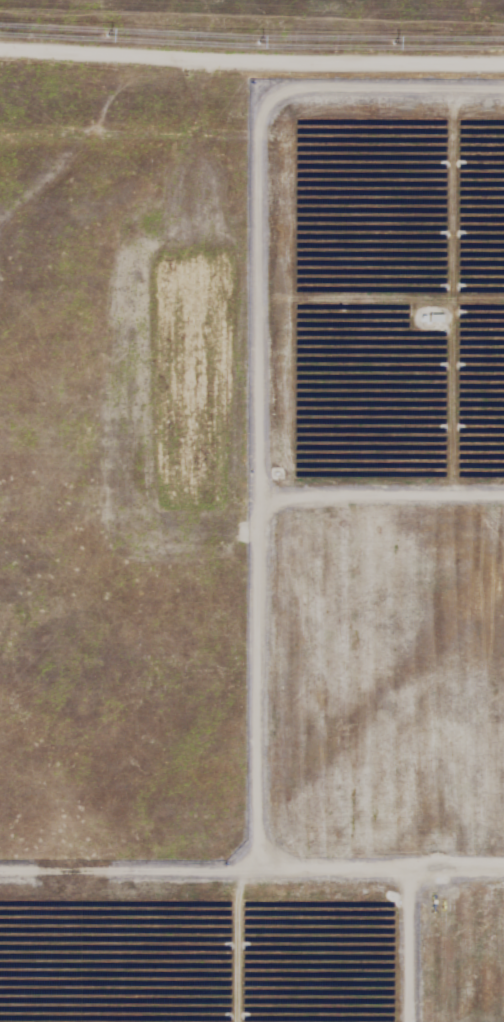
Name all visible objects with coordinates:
road: (252, 60)
solar farm: (252, 511)

